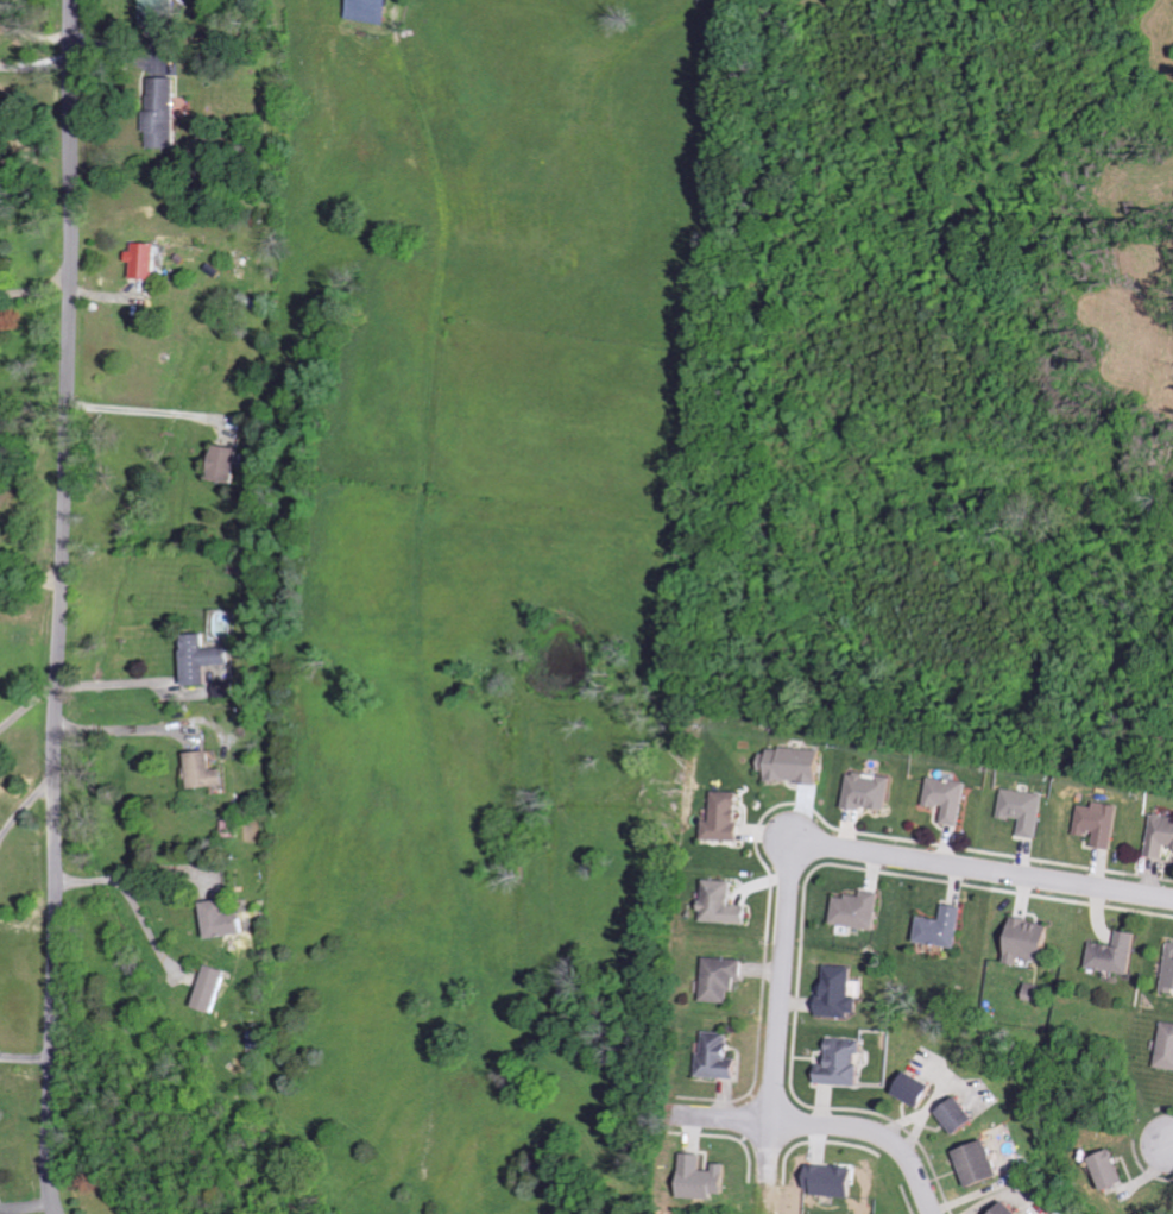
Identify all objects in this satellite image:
building: (373, 11)
building: (164, 12)
building: (165, 114)
building: (149, 259)
building: (229, 464)
road: (59, 606)
building: (206, 659)
building: (793, 765)
building: (210, 772)
building: (870, 792)
building: (950, 798)
building: (1024, 810)
building: (725, 818)
building: (1099, 823)
building: (1161, 836)
road: (982, 870)
building: (725, 904)
building: (860, 910)
building: (228, 920)
building: (945, 927)
building: (1032, 941)
building: (1117, 954)
building: (1169, 971)
building: (724, 979)
building: (216, 988)
building: (1038, 992)
building: (841, 994)
road: (778, 1008)
building: (1167, 1046)
building: (721, 1057)
building: (844, 1063)
building: (919, 1090)
building: (961, 1116)
road: (25, 1120)
road: (826, 1120)
building: (982, 1164)
building: (1114, 1170)
building: (706, 1178)
building: (834, 1180)
building: (1010, 1209)

